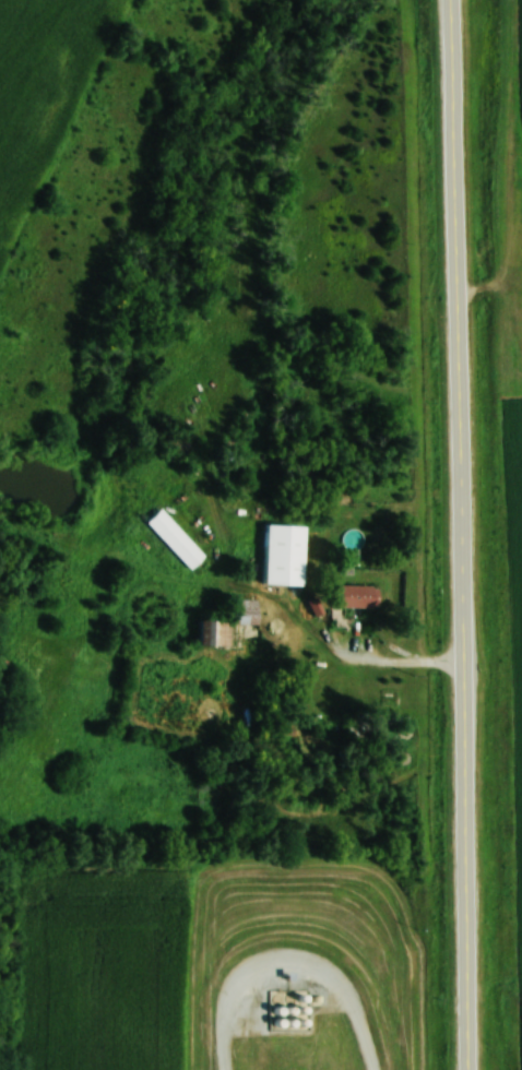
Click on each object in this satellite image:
road: (462, 534)
building: (174, 538)
building: (282, 556)
building: (359, 594)
building: (246, 611)
road: (359, 661)
building: (391, 697)
road: (292, 962)

